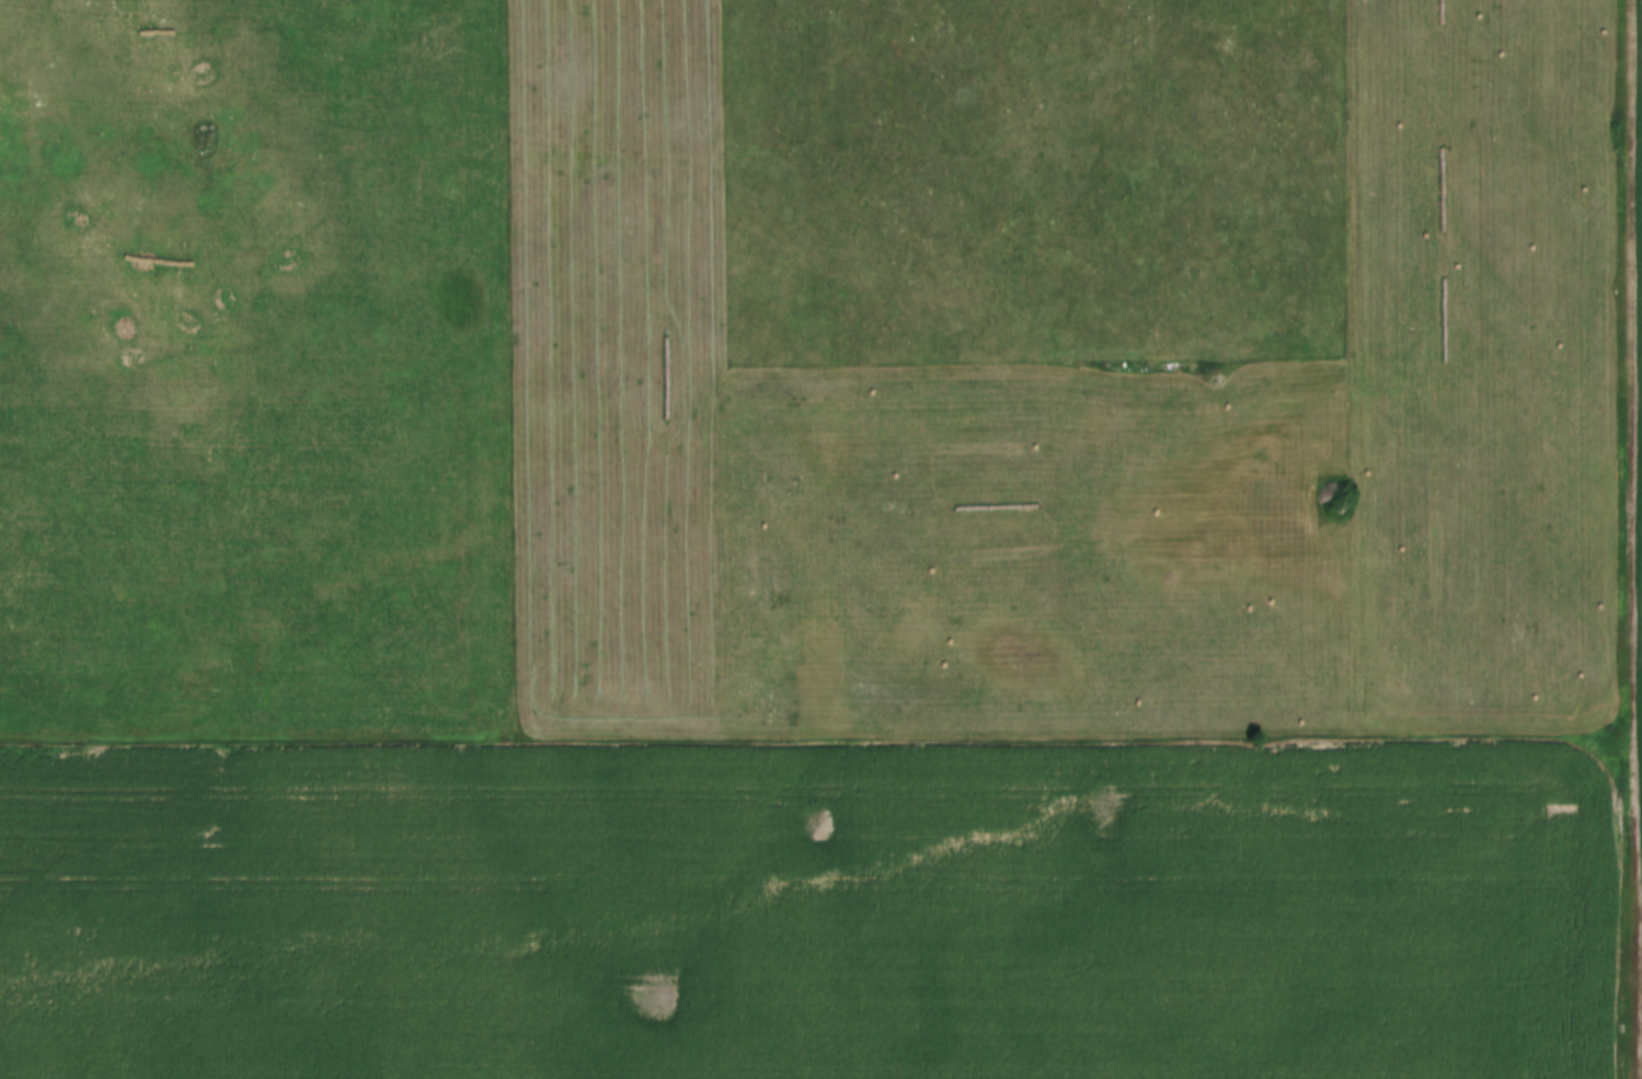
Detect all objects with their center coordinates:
building: (256, 377)

